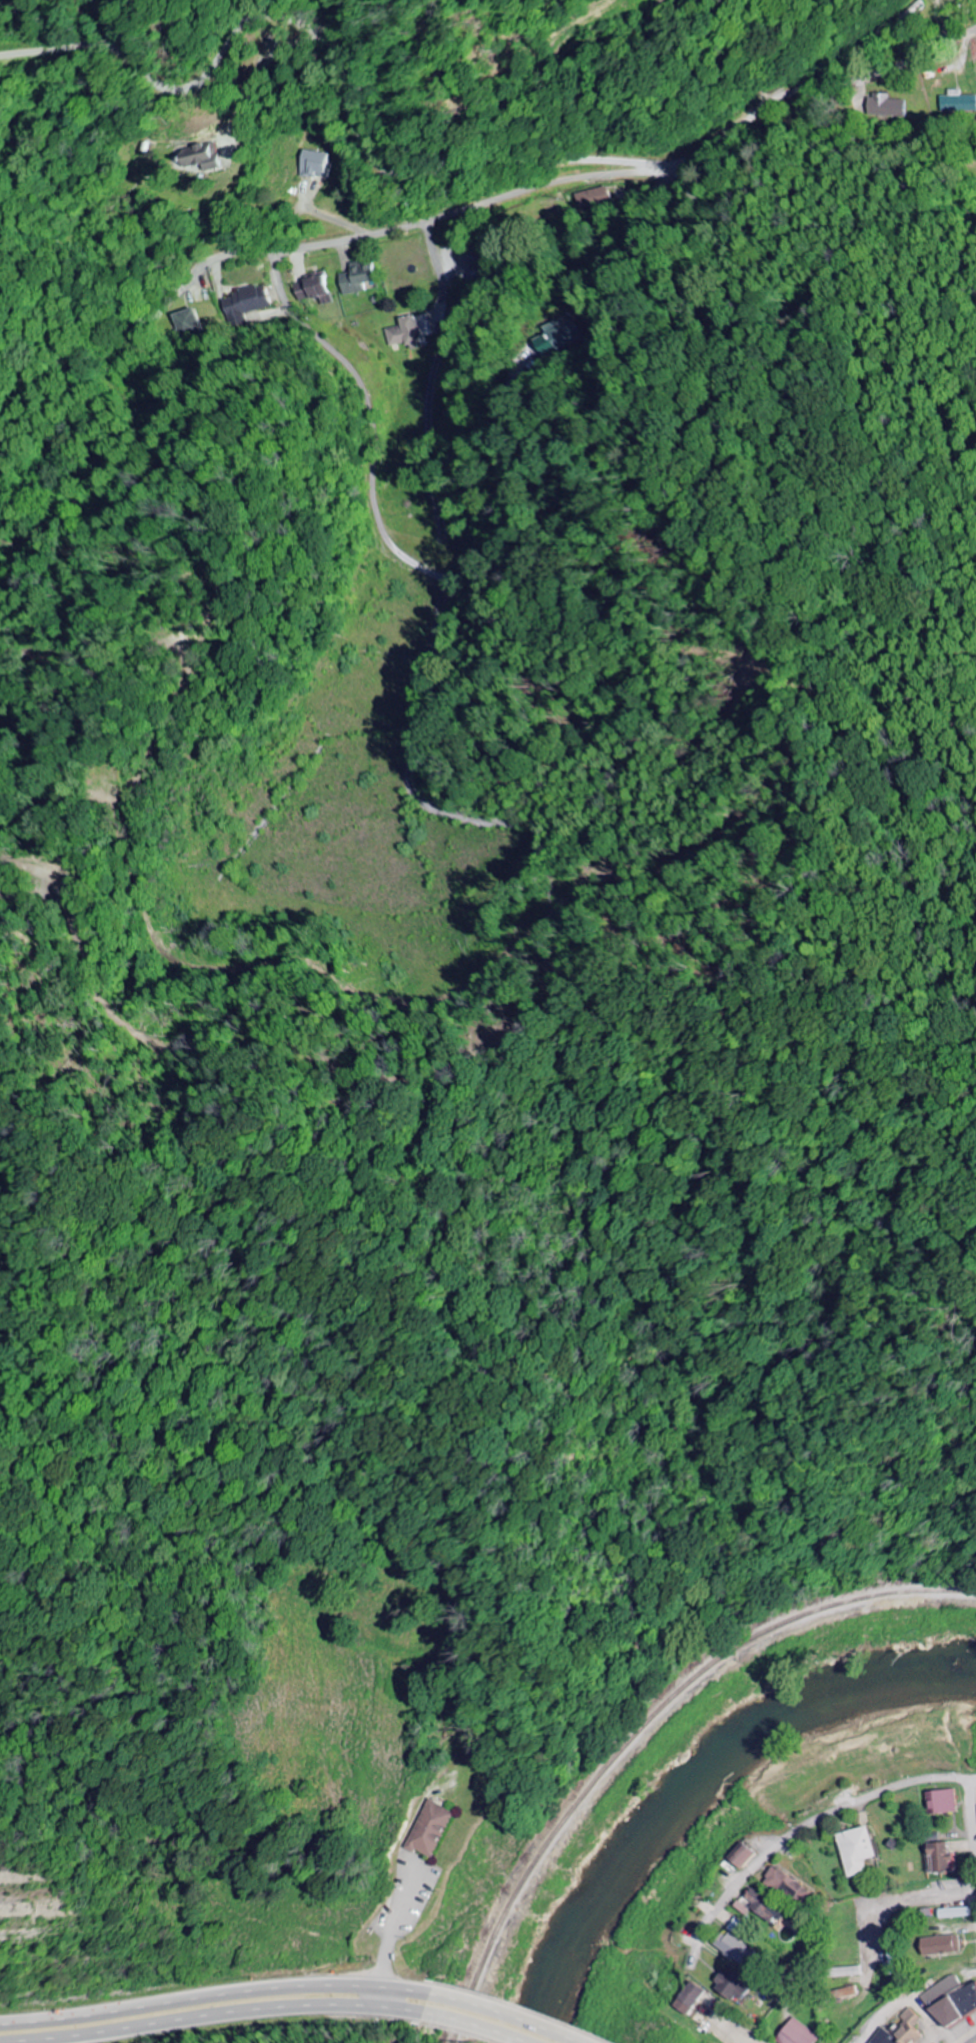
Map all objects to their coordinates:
building: (958, 103)
building: (885, 107)
building: (199, 158)
building: (312, 165)
road: (610, 176)
building: (355, 280)
building: (311, 291)
building: (244, 303)
building: (187, 323)
building: (571, 332)
building: (403, 334)
road: (363, 461)
railway: (647, 1730)
river: (691, 1781)
building: (940, 1801)
road: (972, 1810)
building: (426, 1829)
road: (804, 1829)
building: (854, 1850)
building: (741, 1856)
building: (938, 1856)
building: (784, 1884)
road: (893, 1901)
building: (761, 1906)
building: (953, 1913)
building: (939, 1945)
building: (730, 1947)
building: (843, 1972)
building: (728, 1987)
building: (844, 1993)
road: (221, 1994)
building: (687, 1998)
building: (950, 2001)
road: (521, 2013)
road: (230, 2016)
road: (489, 2026)
building: (900, 2031)
building: (796, 2033)

